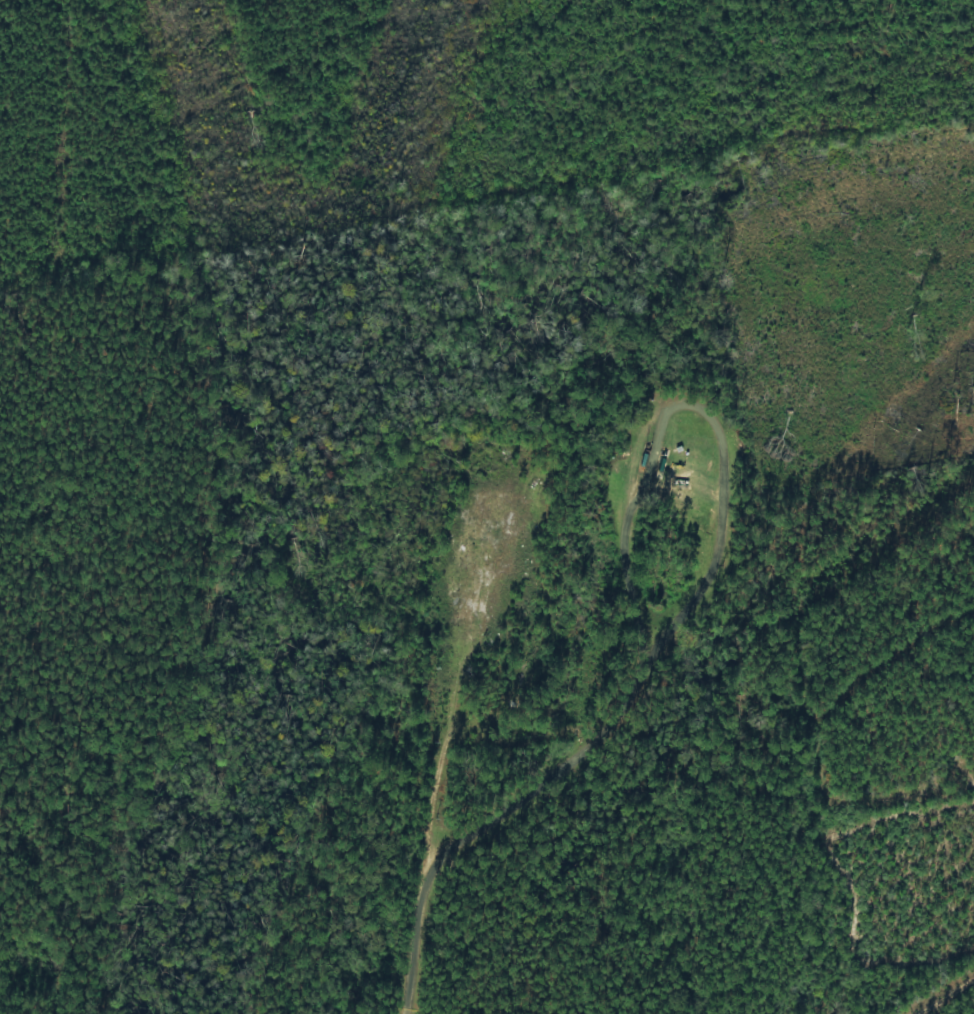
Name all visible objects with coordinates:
road: (407, 764)

